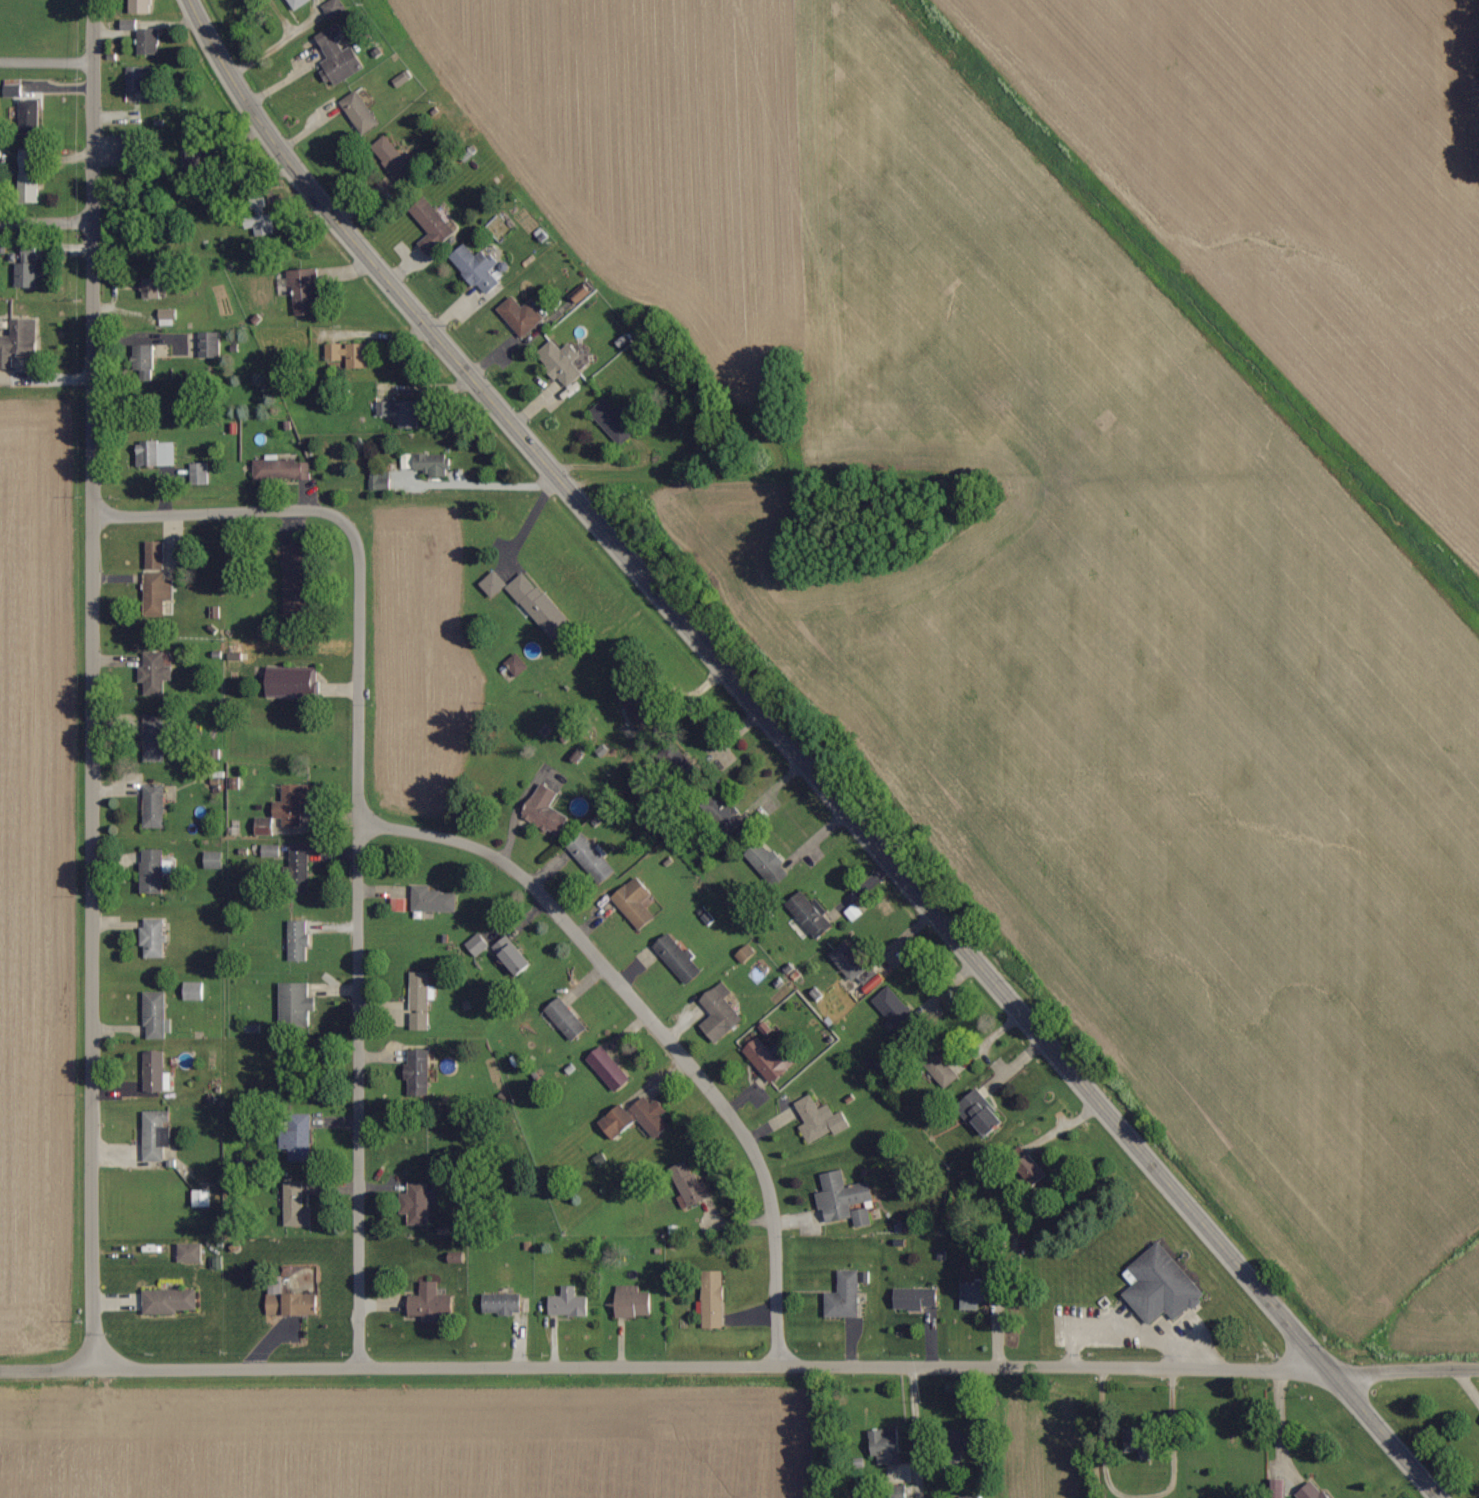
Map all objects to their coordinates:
building: (298, 3)
building: (142, 7)
building: (334, 8)
building: (149, 42)
building: (338, 58)
road: (47, 63)
building: (138, 79)
building: (360, 113)
building: (30, 116)
building: (132, 152)
building: (392, 159)
building: (30, 176)
building: (261, 224)
road: (44, 225)
building: (433, 226)
building: (29, 251)
building: (479, 267)
building: (27, 275)
building: (152, 288)
building: (306, 290)
building: (521, 315)
building: (168, 317)
building: (19, 341)
building: (349, 354)
building: (562, 362)
building: (401, 412)
building: (612, 422)
building: (156, 454)
building: (428, 464)
building: (282, 470)
road: (777, 470)
building: (200, 473)
building: (156, 556)
building: (297, 580)
building: (494, 584)
building: (157, 593)
building: (540, 605)
building: (517, 665)
building: (157, 672)
building: (292, 682)
road: (93, 683)
building: (638, 706)
building: (155, 740)
road: (798, 759)
building: (292, 804)
building: (155, 806)
building: (546, 811)
road: (355, 820)
building: (266, 828)
building: (592, 858)
building: (215, 860)
building: (300, 862)
building: (766, 862)
building: (155, 872)
building: (434, 900)
building: (636, 903)
building: (399, 905)
building: (811, 915)
building: (154, 938)
building: (299, 941)
building: (478, 945)
building: (514, 956)
building: (678, 959)
building: (849, 961)
building: (195, 991)
building: (422, 1000)
building: (297, 1005)
building: (898, 1012)
building: (721, 1013)
building: (567, 1019)
road: (656, 1025)
building: (771, 1060)
building: (610, 1069)
building: (942, 1070)
building: (419, 1073)
building: (652, 1117)
building: (986, 1117)
building: (821, 1120)
building: (618, 1122)
building: (157, 1135)
building: (299, 1137)
building: (1035, 1171)
building: (689, 1186)
building: (843, 1197)
building: (203, 1199)
building: (419, 1203)
building: (297, 1206)
building: (863, 1218)
building: (191, 1253)
building: (1163, 1287)
building: (980, 1295)
building: (846, 1297)
building: (917, 1299)
building: (714, 1300)
building: (170, 1302)
building: (632, 1302)
building: (292, 1303)
building: (431, 1304)
building: (503, 1304)
building: (569, 1304)
road: (664, 1370)
road: (1404, 1370)
road: (916, 1433)
building: (969, 1443)
building: (1141, 1443)
building: (886, 1446)
building: (1313, 1492)

